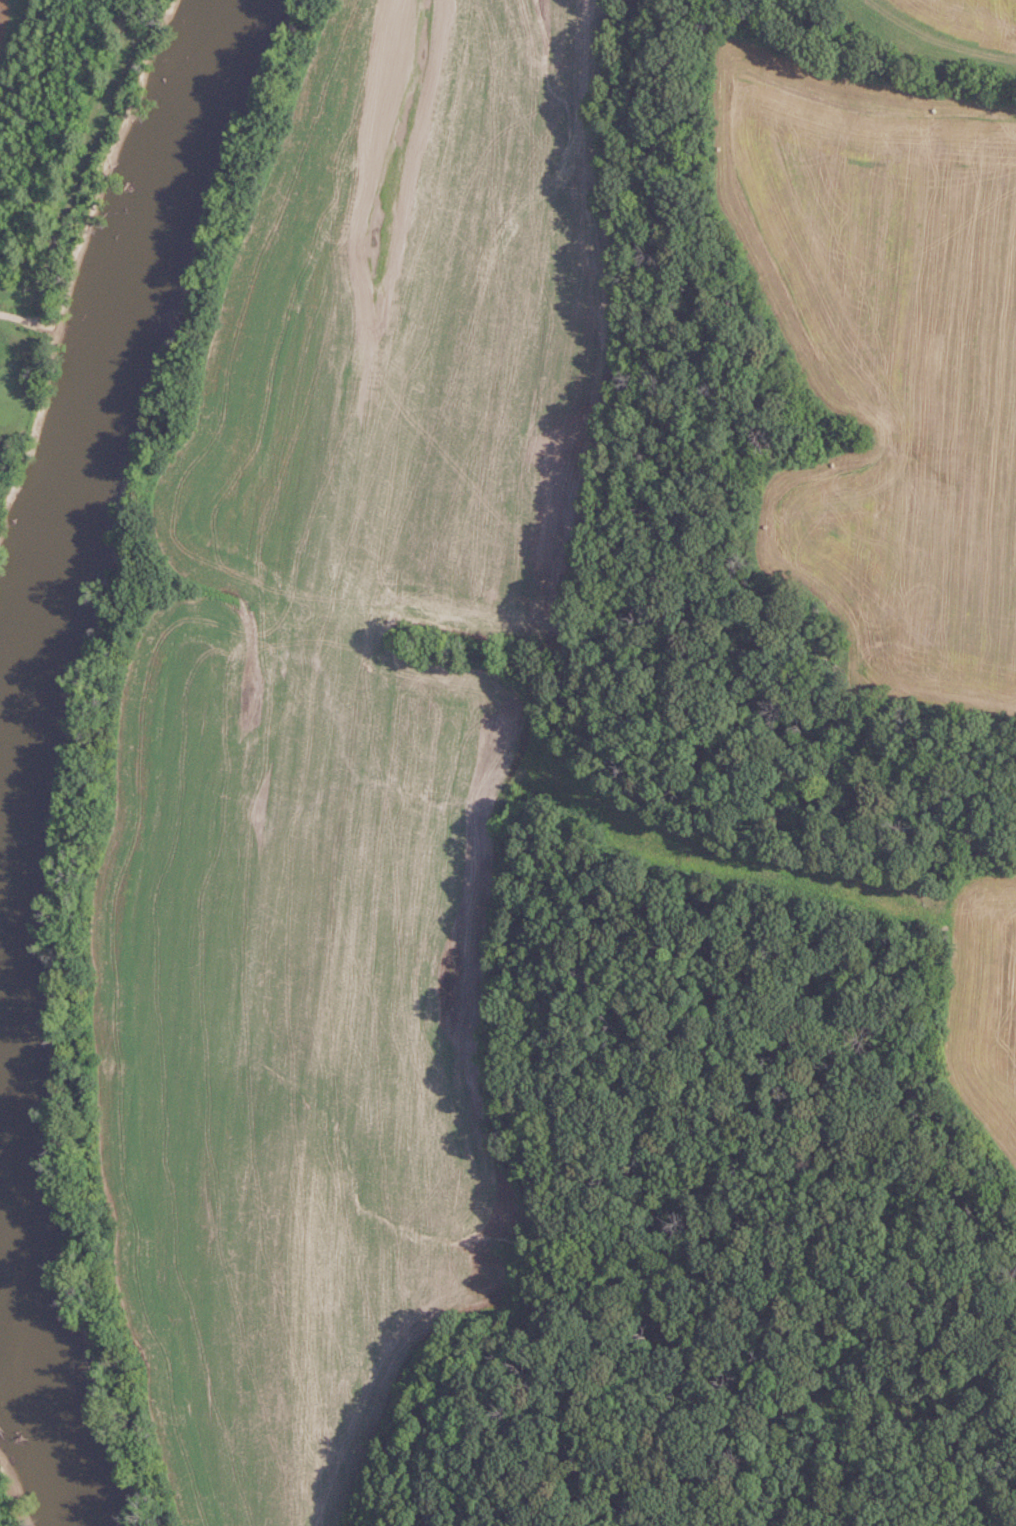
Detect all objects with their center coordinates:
river: (108, 409)
river: (16, 1300)

